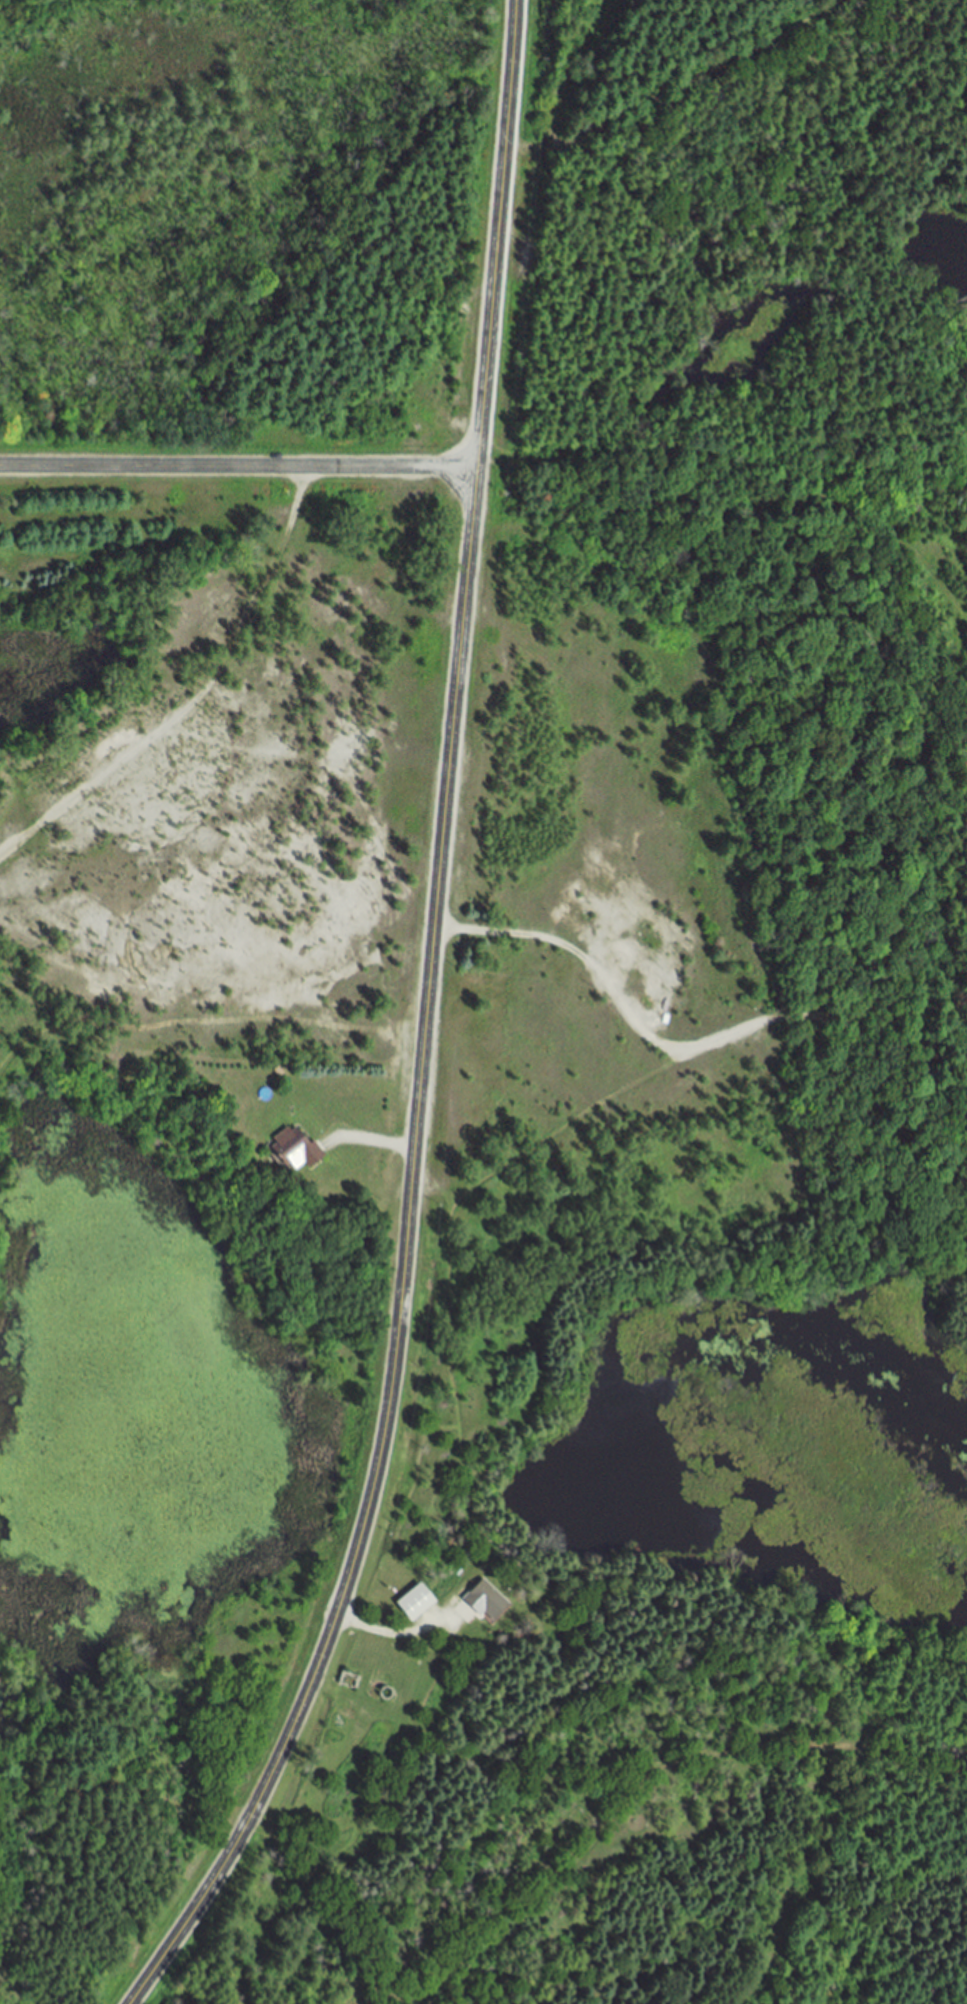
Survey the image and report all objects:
road: (238, 467)
road: (422, 1031)
road: (704, 1043)
road: (376, 1142)
building: (297, 1153)
building: (416, 1603)
road: (390, 1633)

